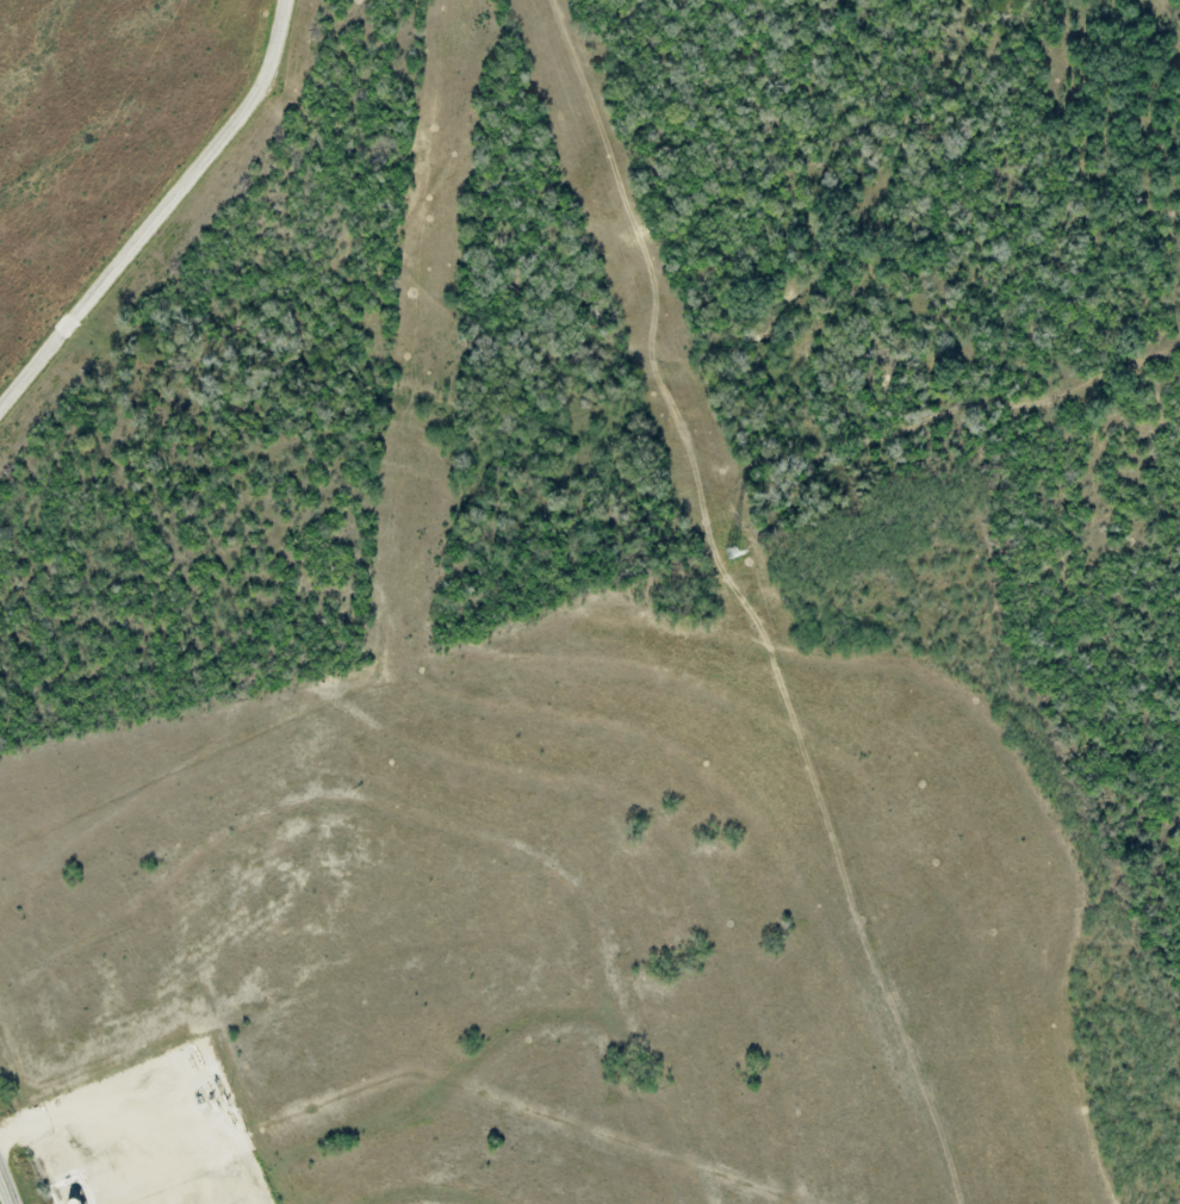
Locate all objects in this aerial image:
road: (162, 216)
power tower: (729, 553)
road: (10, 1177)

